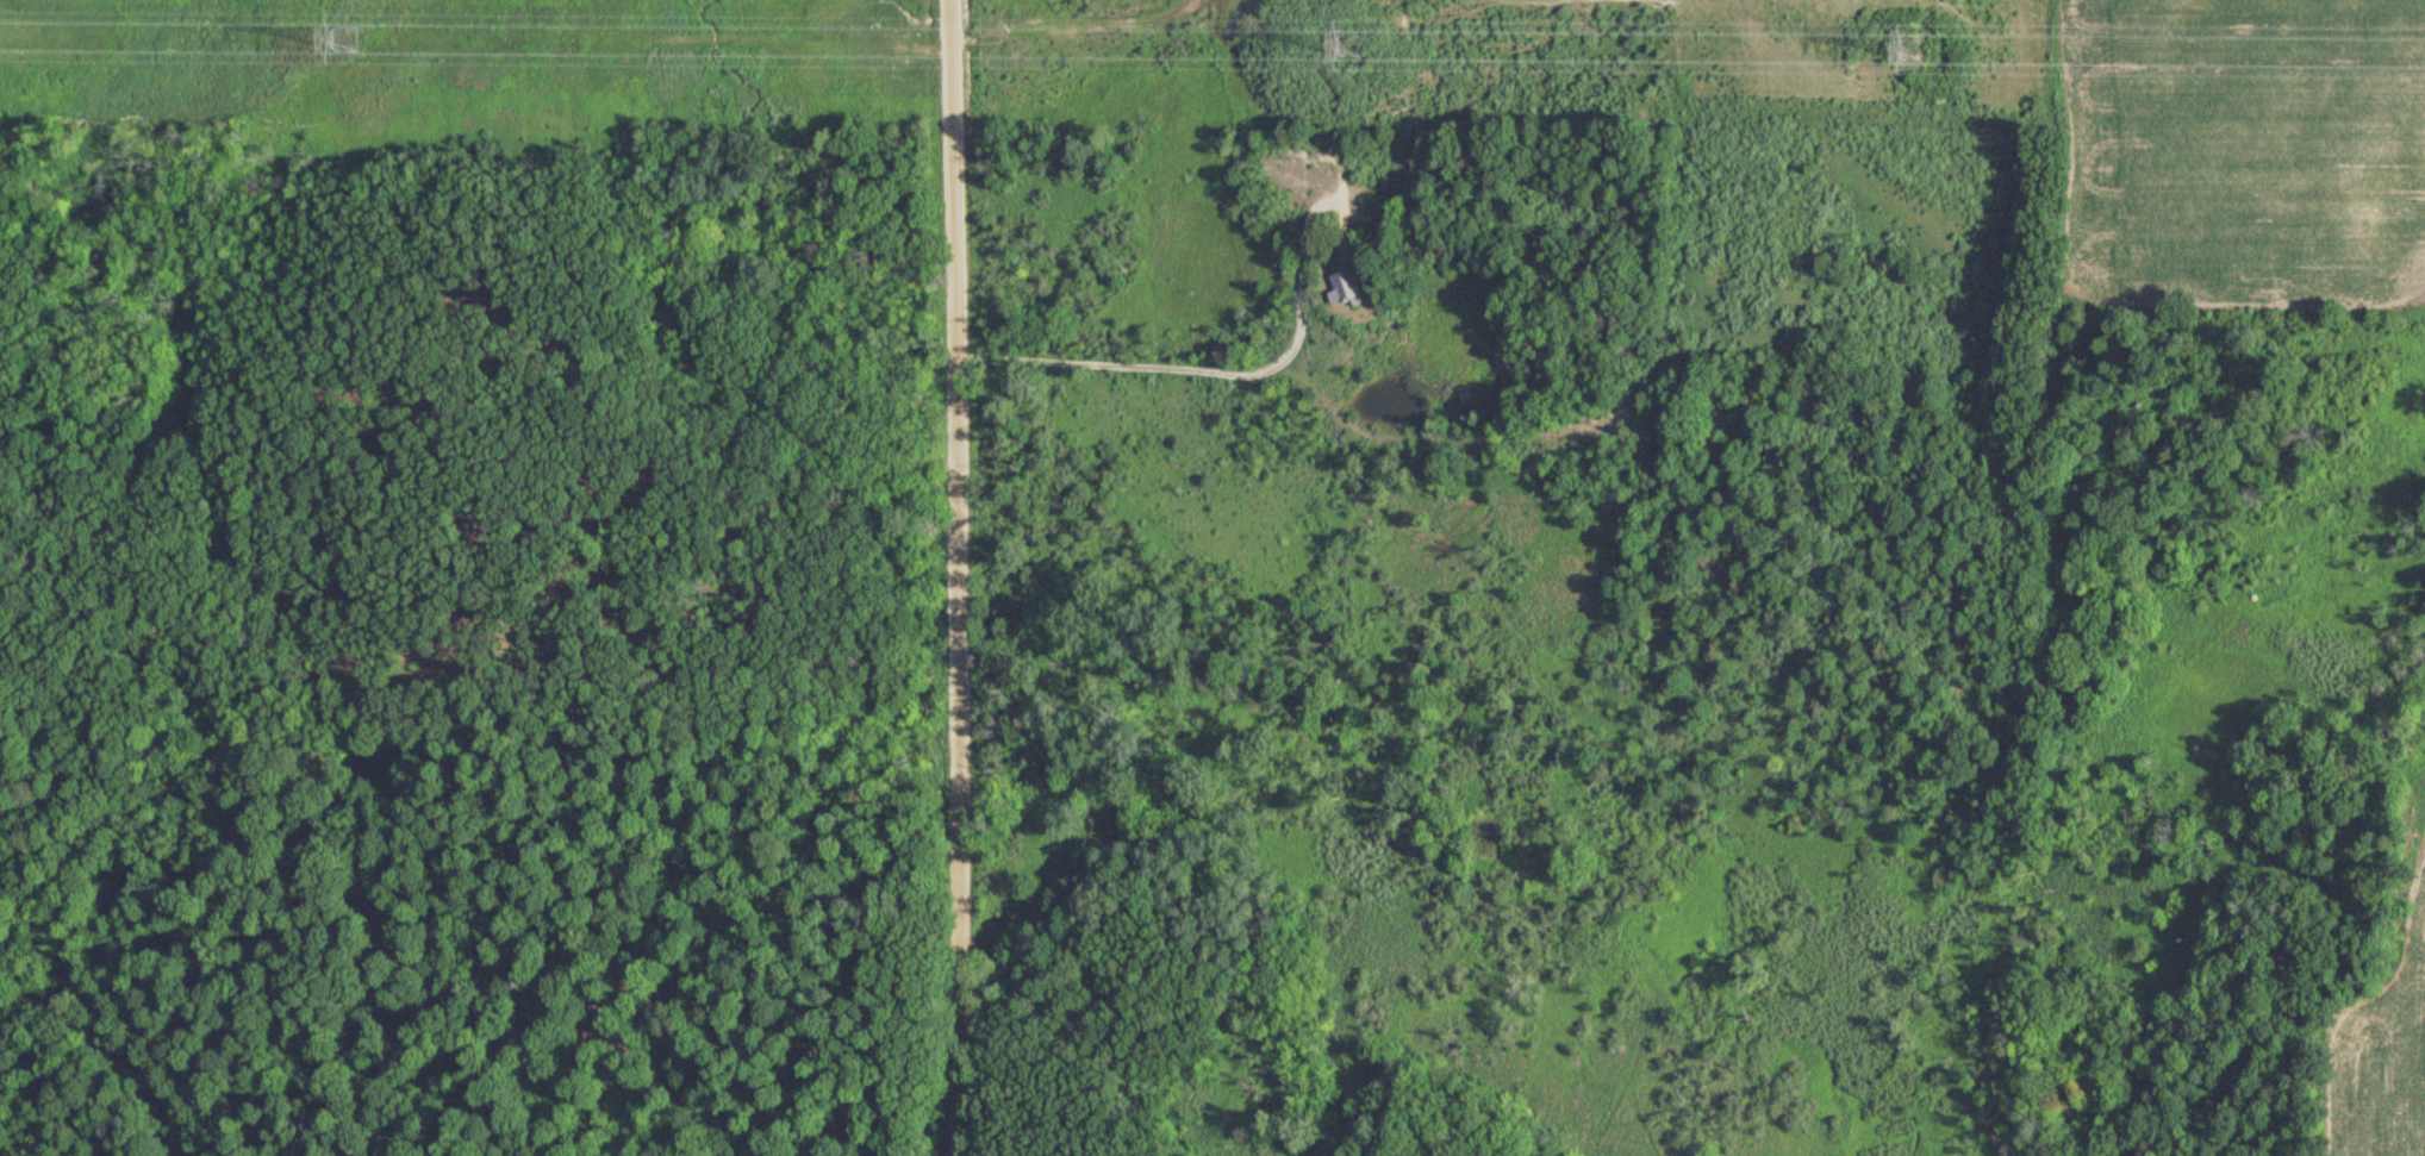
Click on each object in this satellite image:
power tower: (347, 36)
power tower: (1344, 42)
power tower: (1906, 46)
building: (1340, 287)
road: (952, 577)

